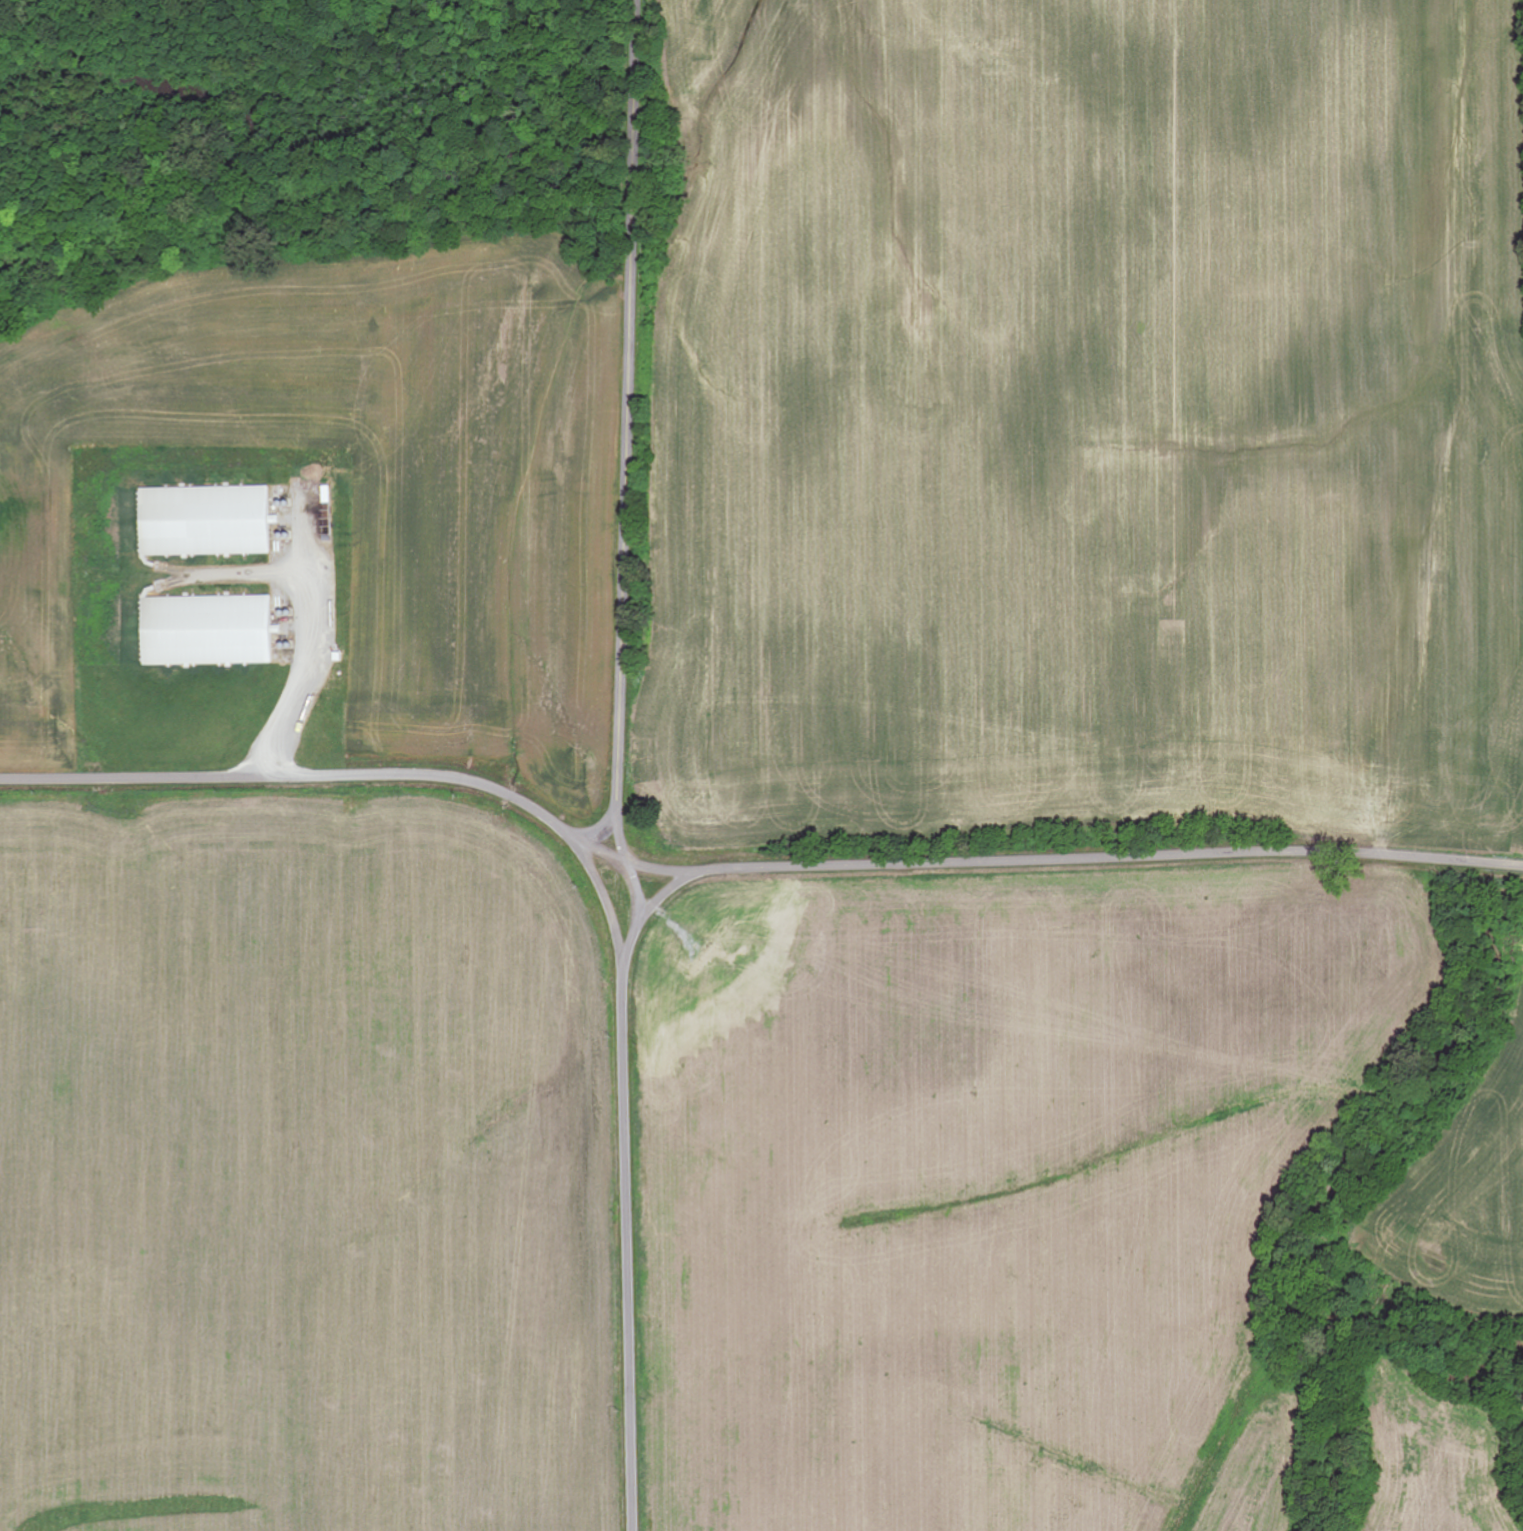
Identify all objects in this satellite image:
road: (619, 767)
road: (751, 868)
road: (602, 892)

